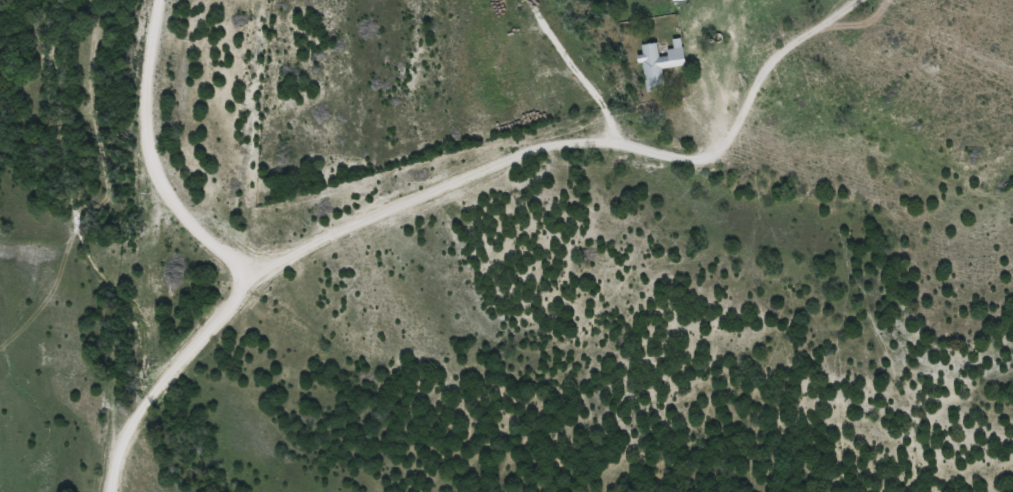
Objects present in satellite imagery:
building: (655, 65)
road: (528, 184)
road: (203, 246)
road: (261, 270)

